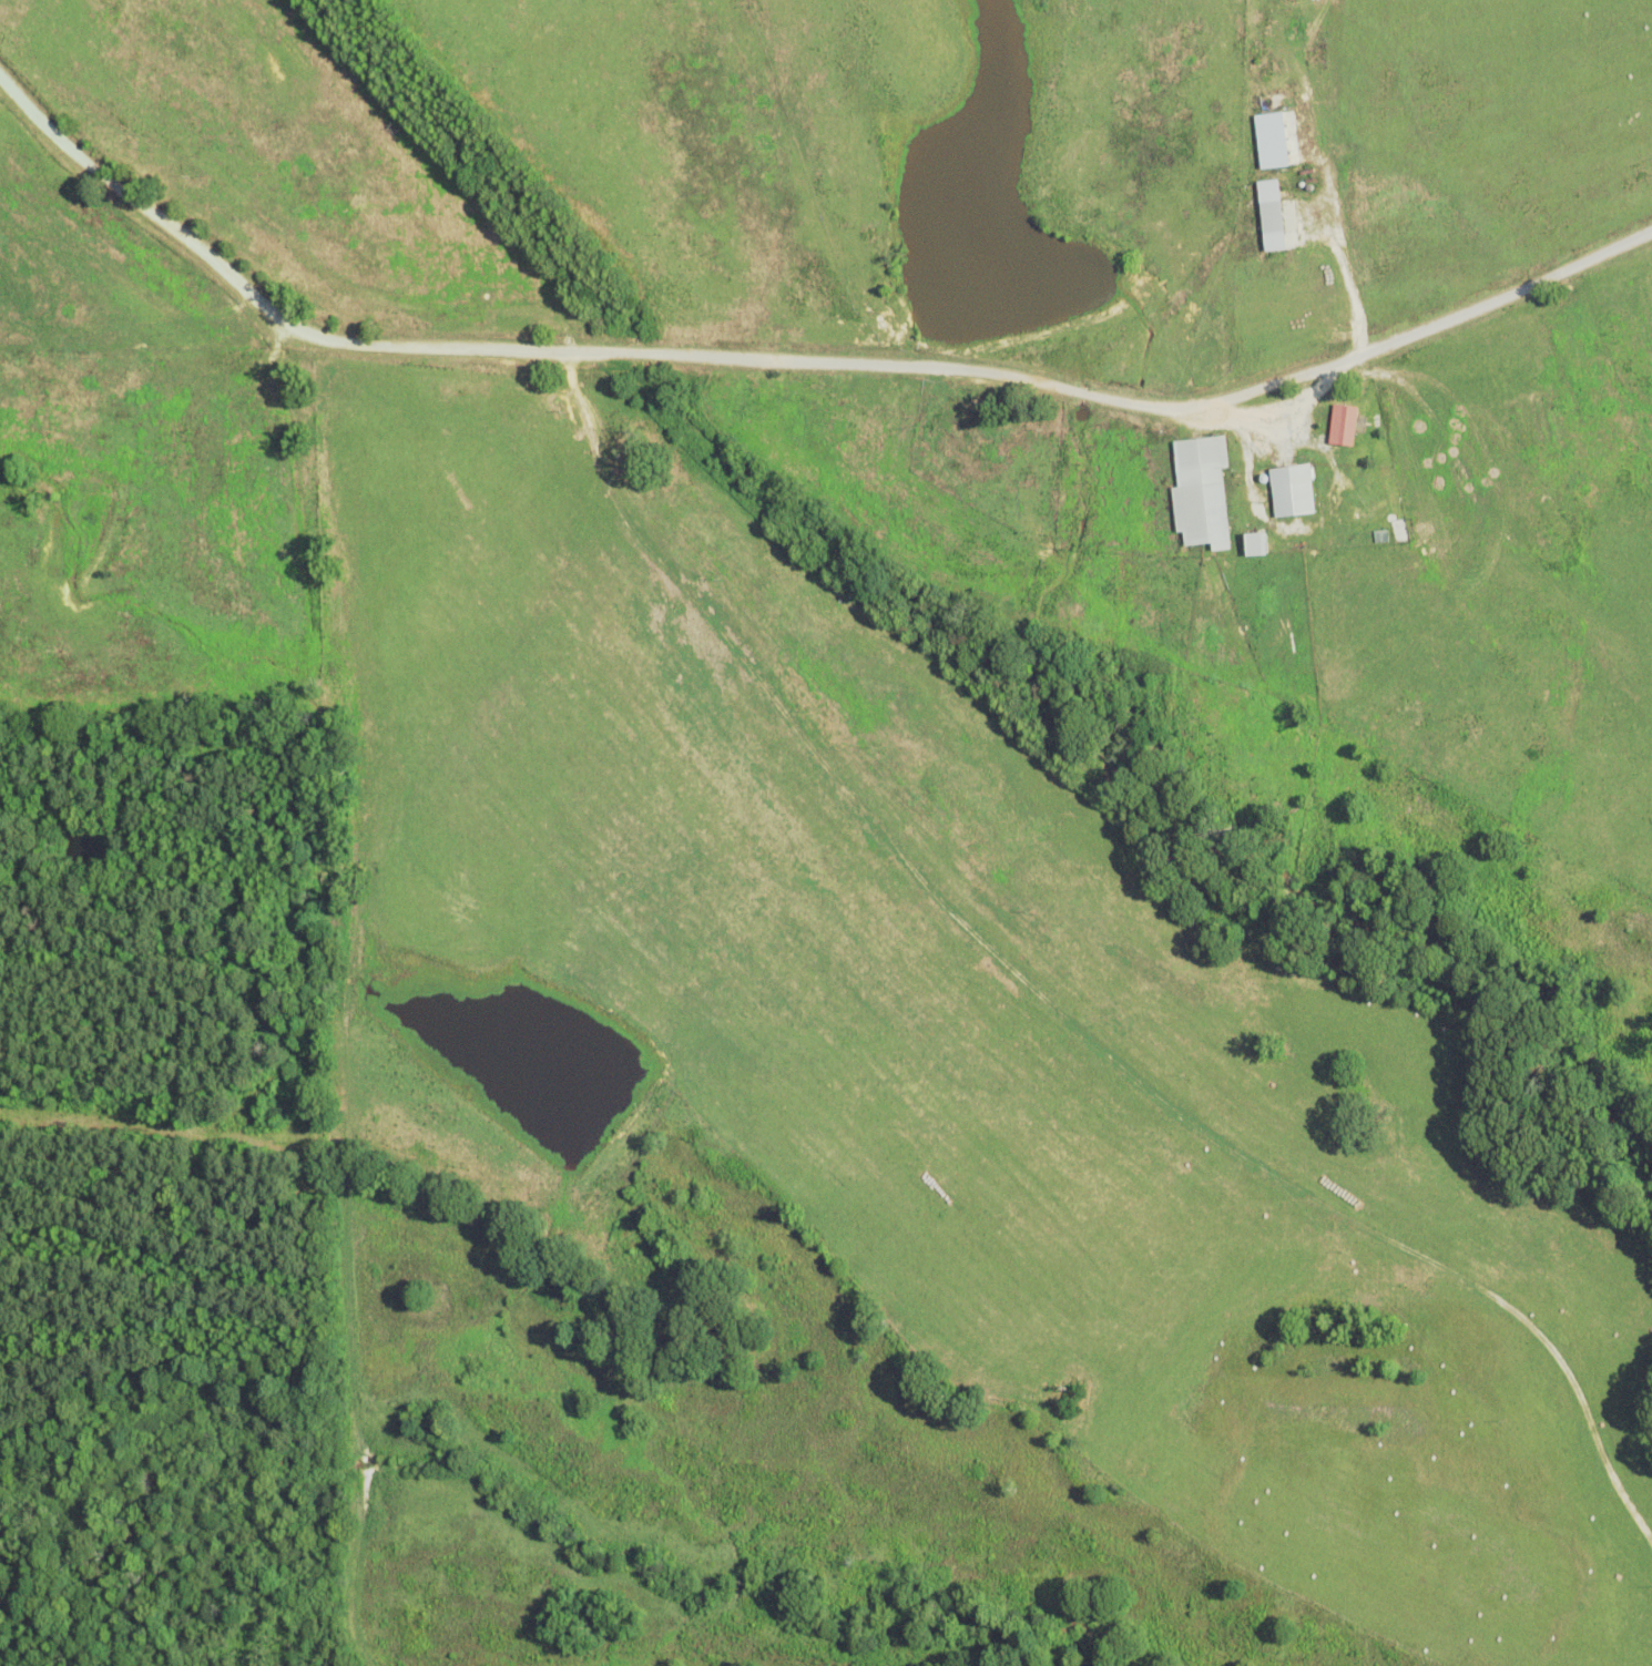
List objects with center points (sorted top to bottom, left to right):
building: (1267, 216)
road: (797, 359)
building: (1340, 425)
building: (1289, 489)
building: (1199, 491)
building: (1251, 542)

